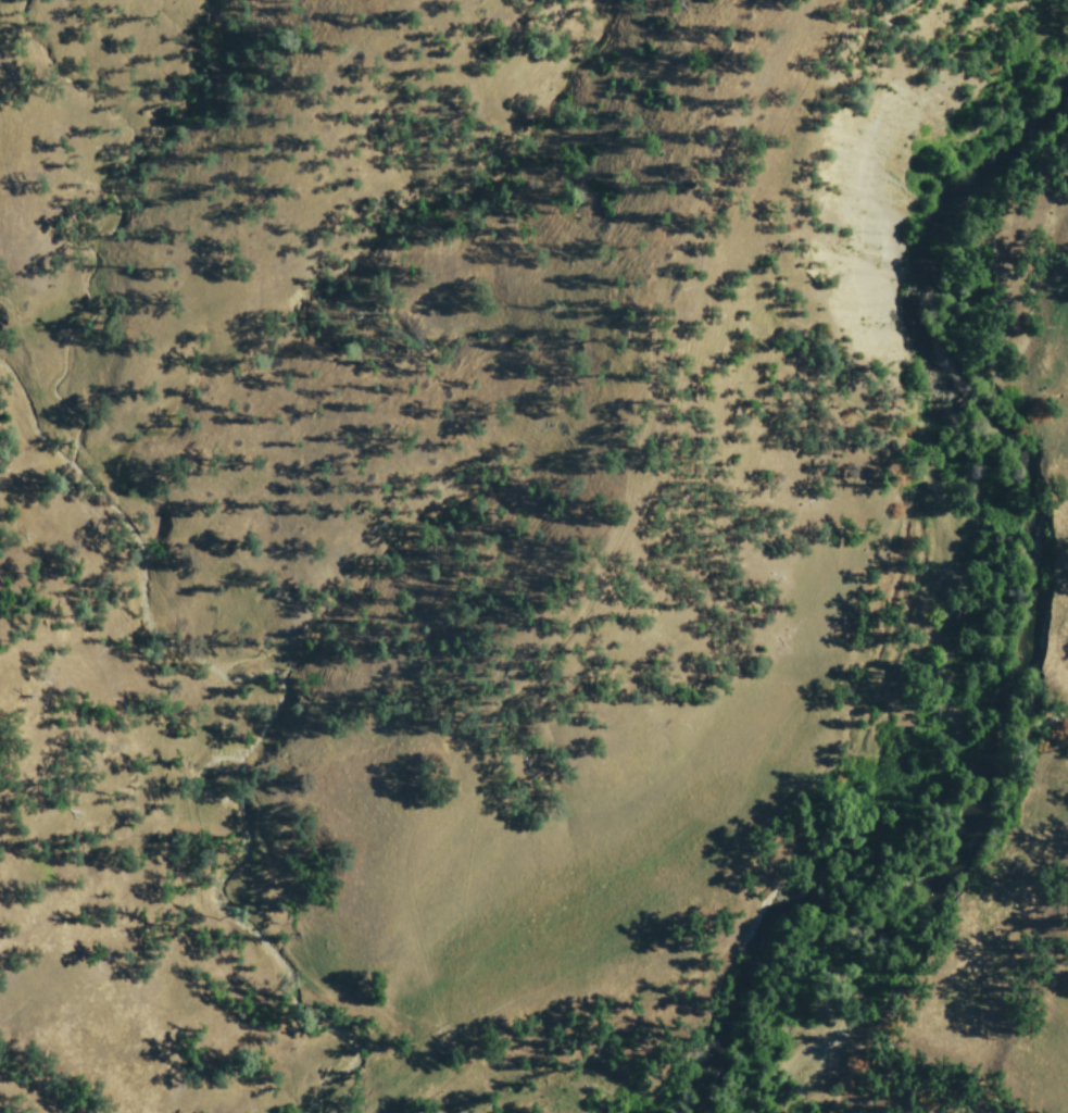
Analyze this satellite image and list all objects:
river: (968, 384)
river: (832, 890)

